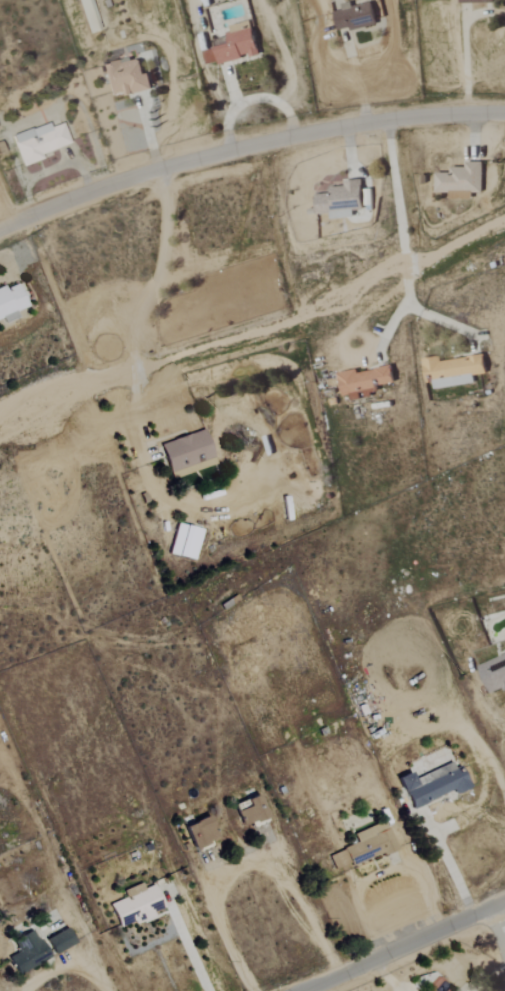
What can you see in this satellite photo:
building: (474, 1)
building: (88, 16)
building: (355, 16)
building: (232, 47)
road: (463, 64)
road: (356, 77)
building: (126, 78)
road: (251, 99)
building: (38, 142)
road: (246, 147)
building: (460, 182)
building: (341, 201)
road: (398, 209)
building: (10, 302)
road: (141, 316)
building: (452, 371)
building: (364, 383)
building: (188, 454)
building: (185, 542)
building: (494, 675)
building: (406, 780)
building: (439, 787)
building: (251, 811)
building: (201, 831)
building: (365, 846)
road: (248, 863)
road: (447, 864)
road: (385, 874)
building: (136, 905)
road: (499, 924)
building: (60, 940)
road: (183, 940)
road: (405, 946)
building: (26, 952)
road: (67, 967)

